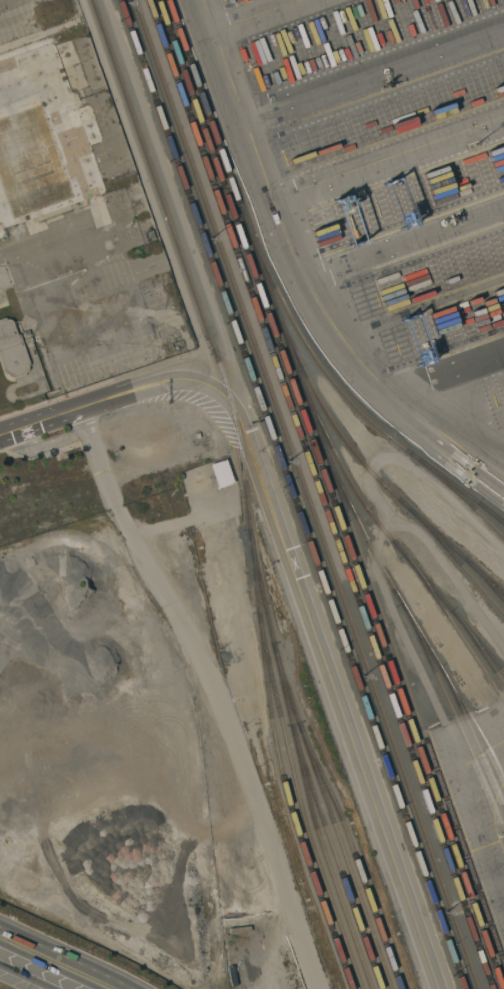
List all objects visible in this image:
road: (268, 17)
building: (65, 25)
railway: (166, 27)
road: (378, 80)
road: (257, 136)
railway: (212, 138)
building: (31, 154)
road: (393, 166)
building: (148, 236)
road: (405, 237)
road: (42, 248)
building: (27, 340)
building: (11, 351)
road: (448, 372)
road: (132, 391)
road: (392, 391)
railway: (345, 397)
railway: (367, 468)
building: (221, 473)
railway: (336, 480)
railway: (244, 489)
railway: (292, 494)
railway: (307, 494)
railway: (321, 494)
railway: (331, 494)
road: (273, 495)
railway: (461, 496)
railway: (490, 513)
railway: (387, 534)
railway: (457, 560)
railway: (484, 577)
railway: (410, 616)
railway: (454, 626)
railway: (479, 646)
road: (211, 694)
railway: (454, 715)
railway: (472, 736)
railway: (299, 761)
railway: (300, 802)
railway: (331, 815)
railway: (354, 853)
railway: (334, 857)
road: (65, 958)
road: (47, 966)
road: (18, 980)

